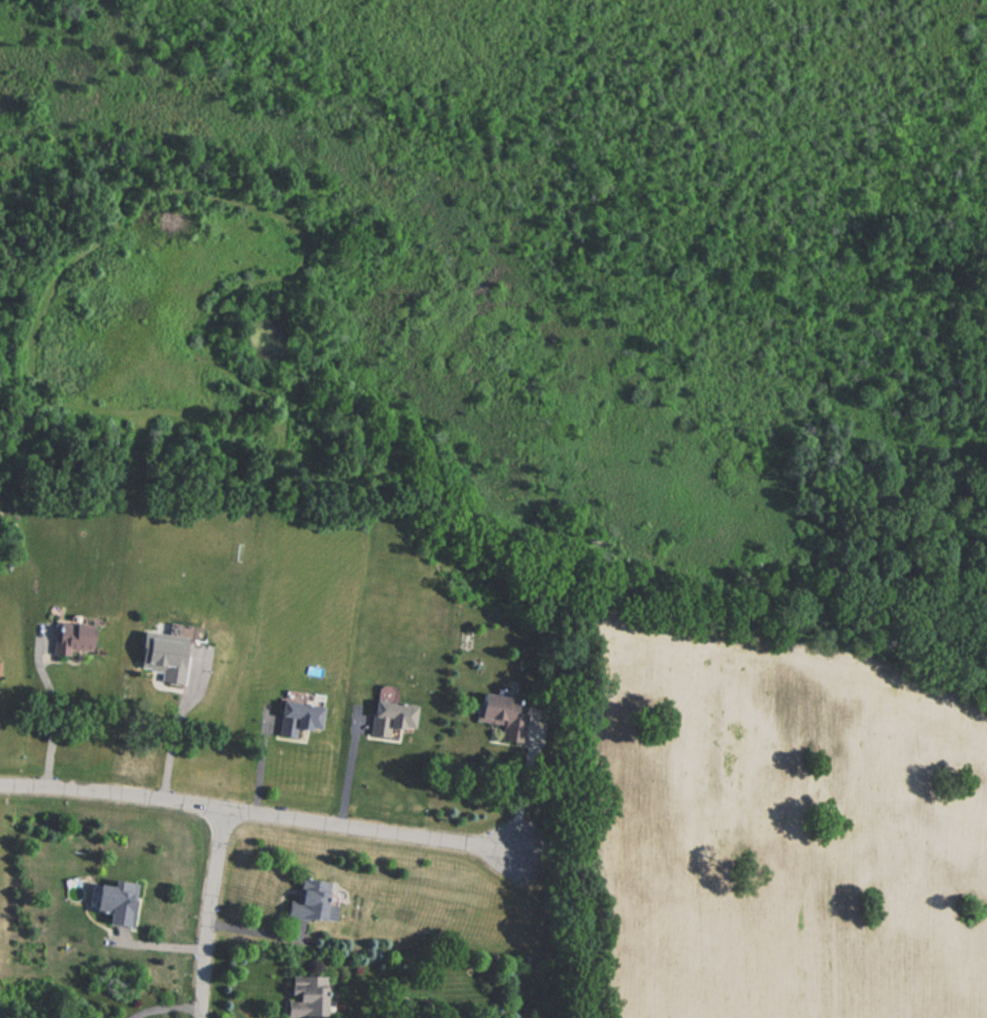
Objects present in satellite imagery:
building: (70, 638)
building: (159, 664)
building: (492, 715)
building: (388, 719)
building: (296, 720)
road: (54, 722)
road: (170, 743)
road: (260, 761)
road: (349, 774)
road: (522, 795)
road: (257, 815)
building: (112, 901)
building: (311, 901)
road: (212, 914)
road: (158, 945)
building: (304, 995)
road: (171, 1011)

